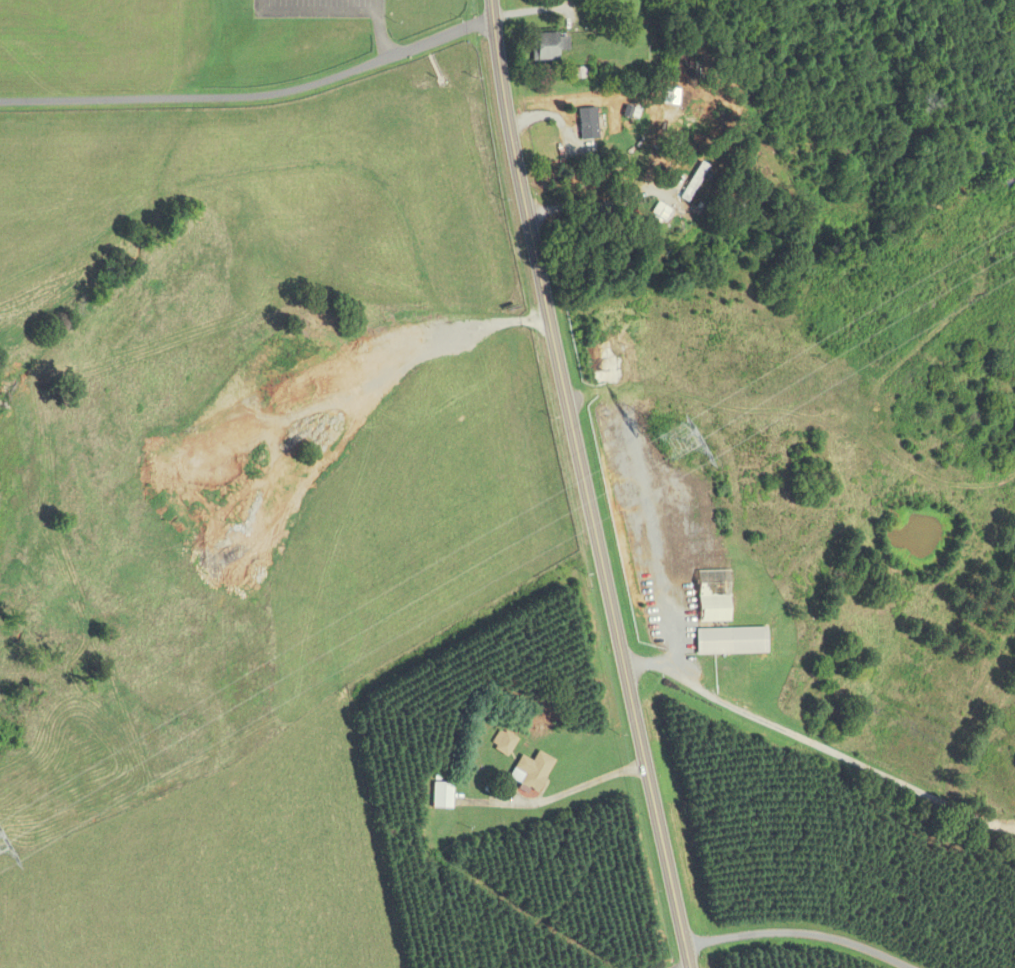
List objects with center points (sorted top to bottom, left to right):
building: (663, 1)
road: (379, 5)
road: (316, 11)
road: (382, 39)
building: (544, 47)
road: (251, 101)
building: (691, 183)
road: (596, 205)
building: (657, 212)
power tower: (673, 443)
road: (580, 485)
building: (725, 595)
building: (728, 641)
road: (821, 741)
building: (501, 743)
building: (529, 771)
road: (582, 785)
building: (439, 795)
road: (1014, 831)
road: (813, 922)

